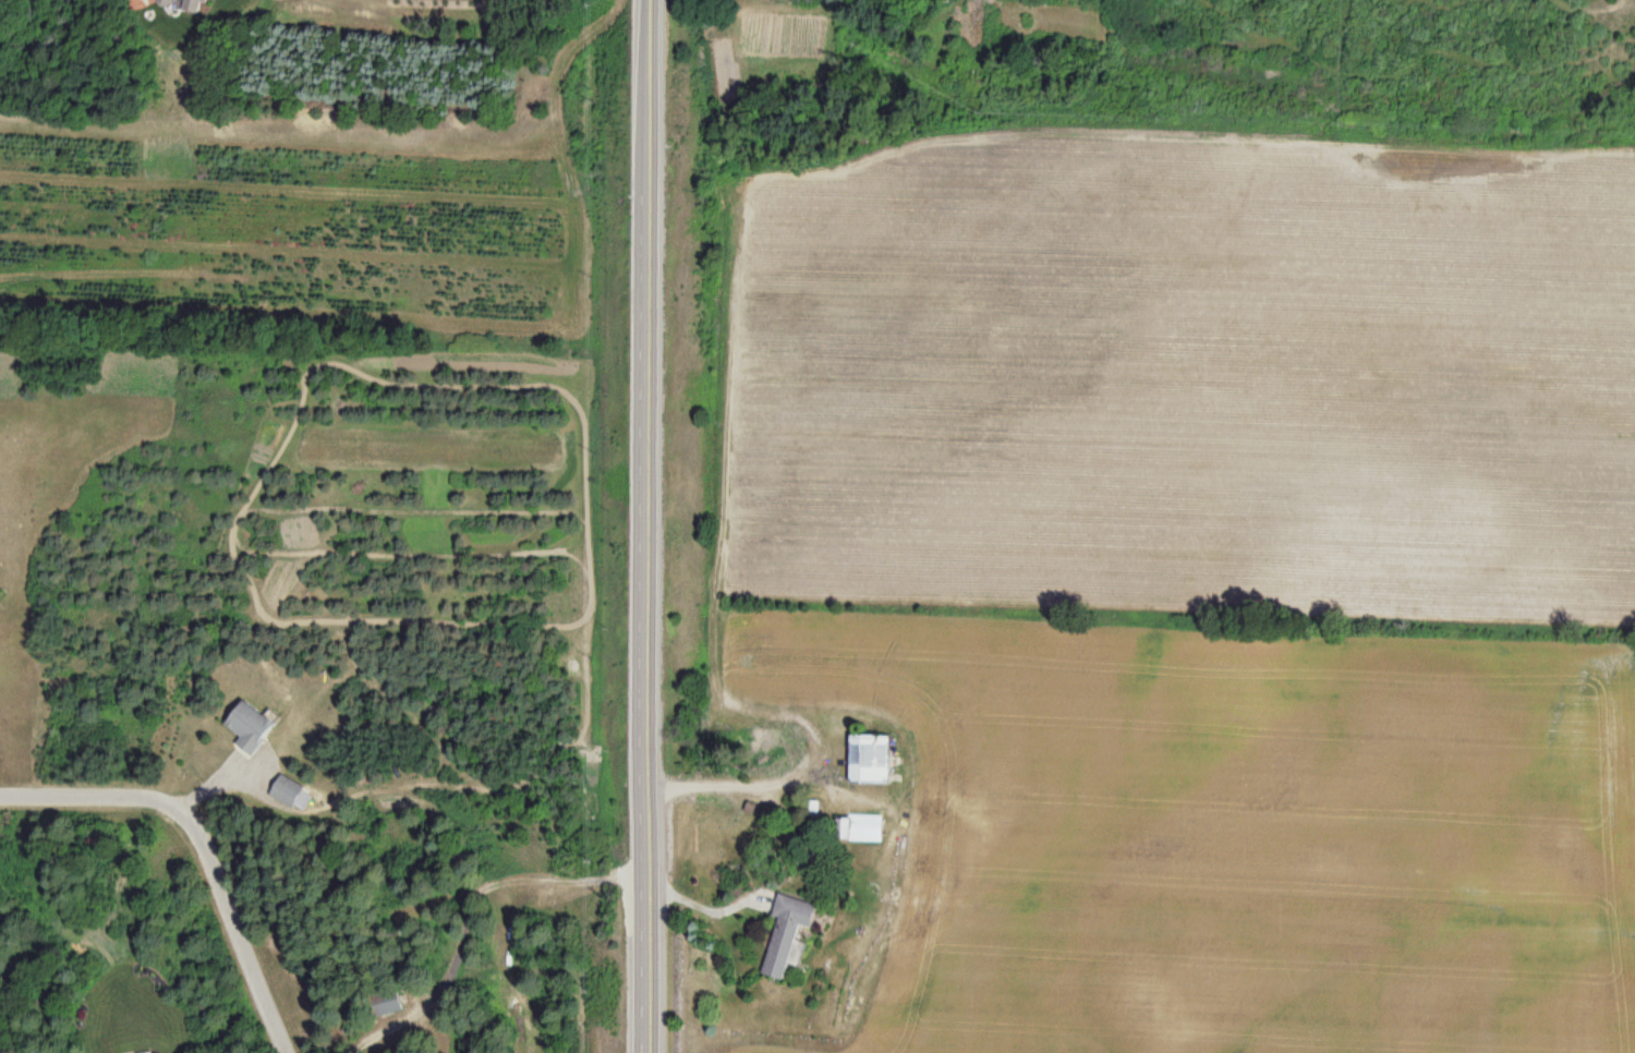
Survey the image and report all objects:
road: (651, 526)
building: (0, 602)
building: (254, 728)
building: (874, 759)
building: (288, 794)
road: (87, 797)
building: (863, 830)
road: (231, 929)
building: (789, 937)

